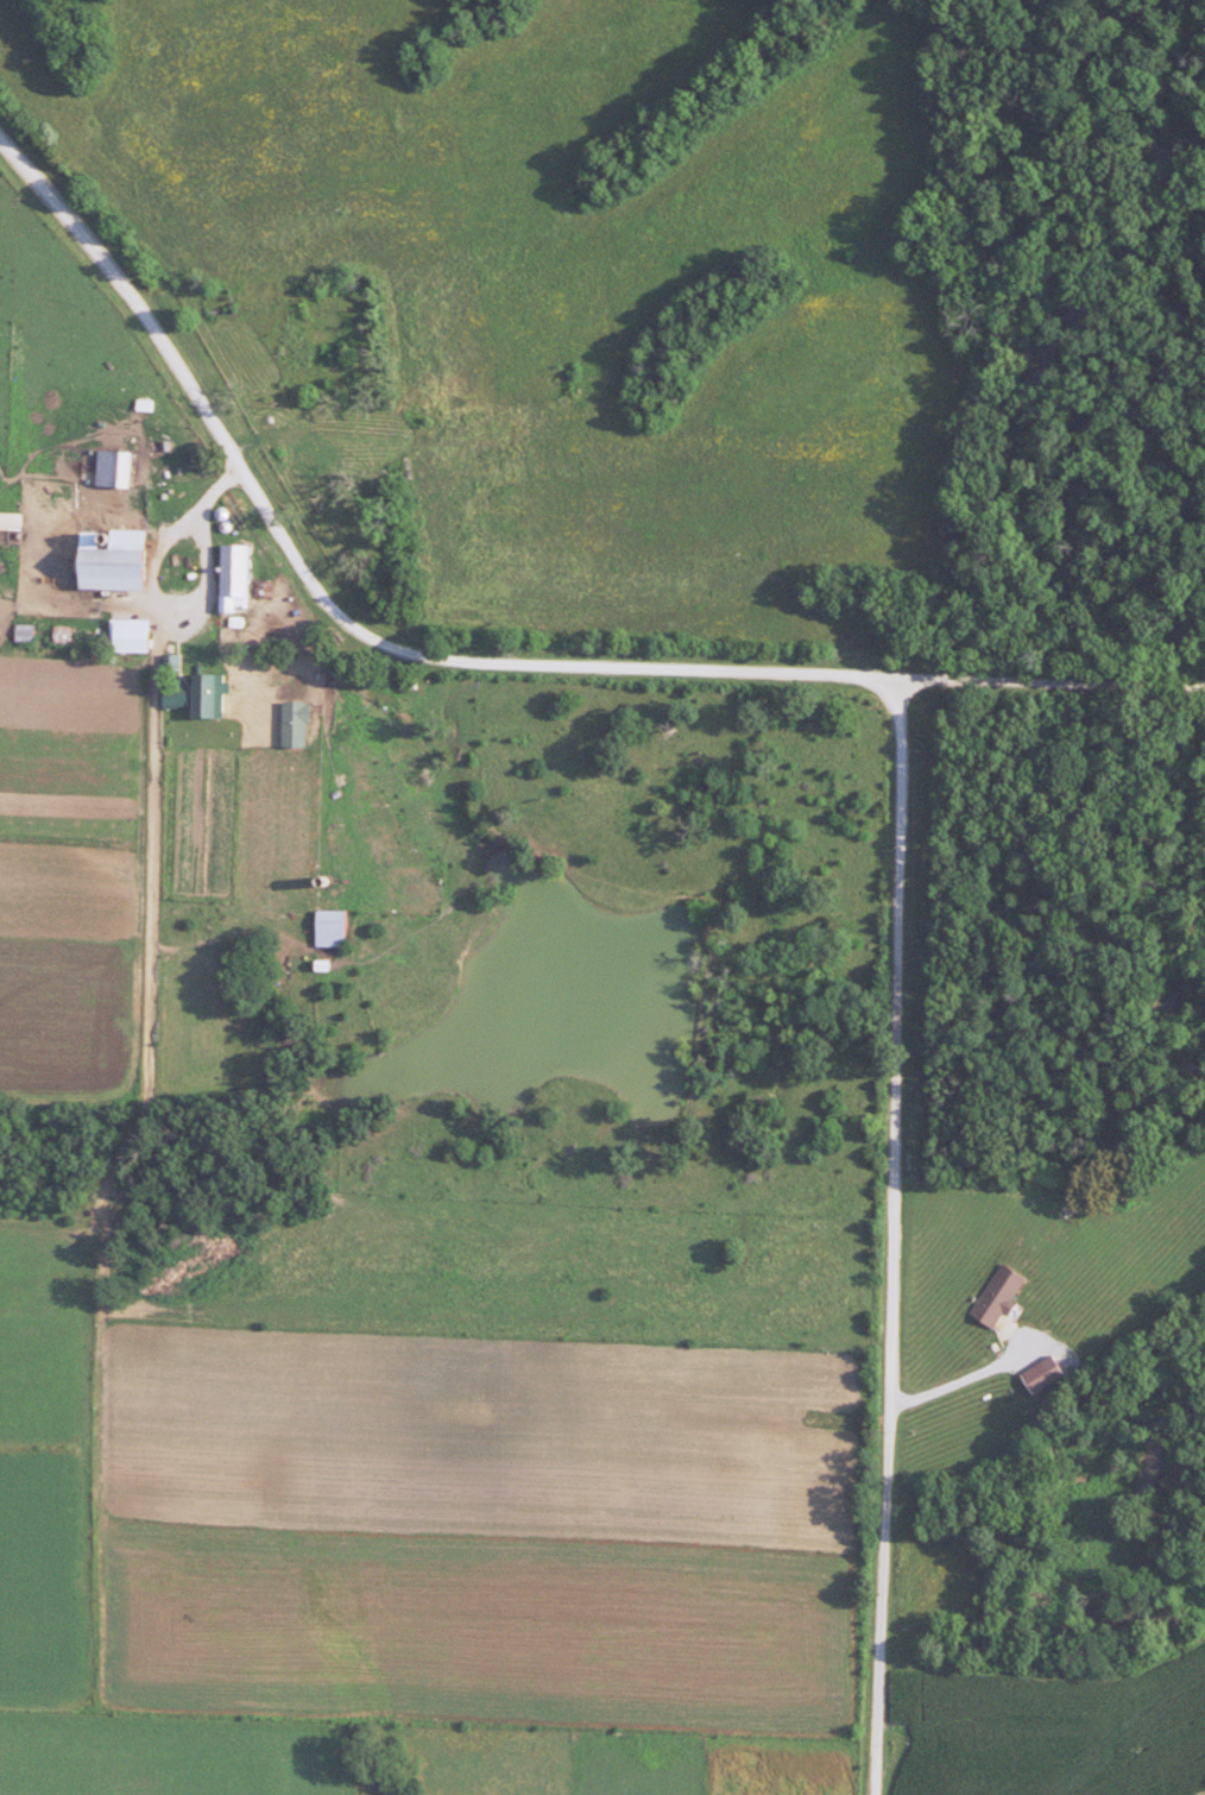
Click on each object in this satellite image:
building: (263, 295)
building: (314, 459)
building: (113, 468)
building: (106, 569)
building: (233, 571)
road: (213, 596)
road: (469, 667)
building: (204, 695)
building: (329, 928)
road: (153, 949)
road: (895, 1239)
road: (970, 1387)

